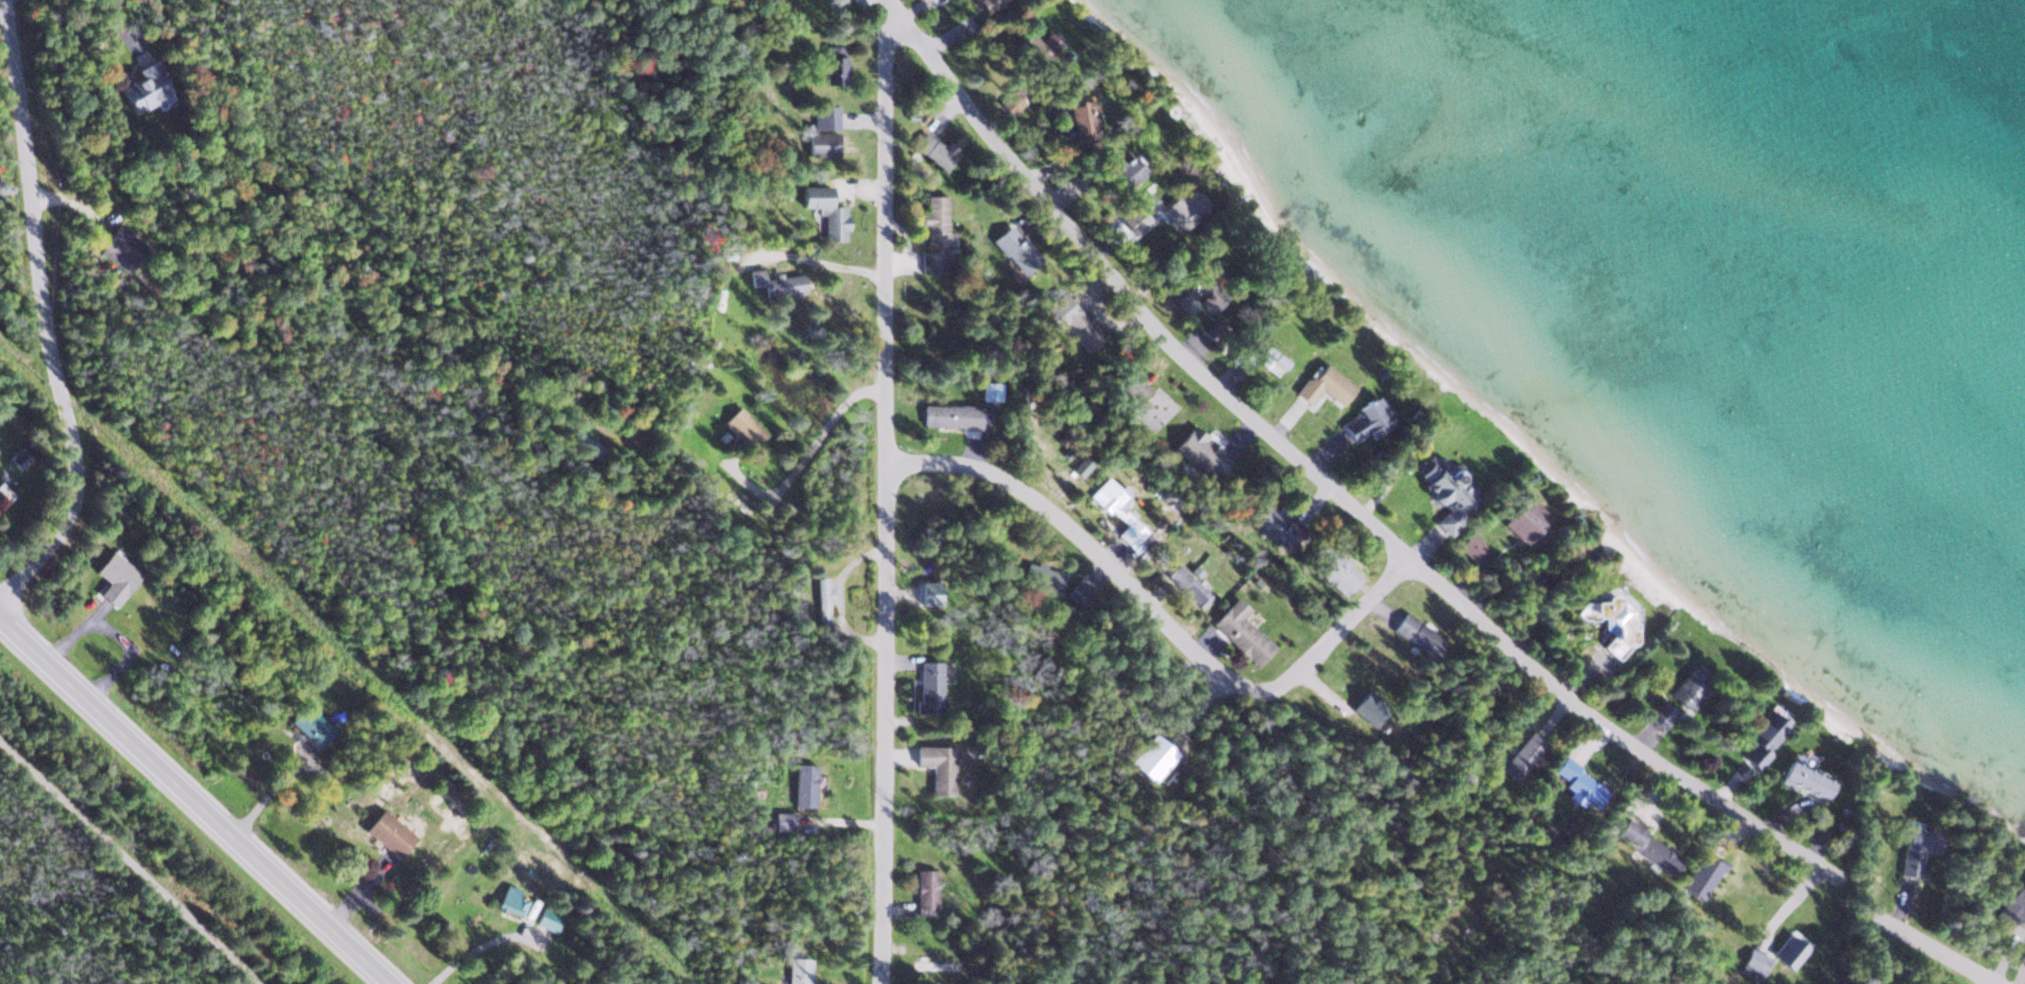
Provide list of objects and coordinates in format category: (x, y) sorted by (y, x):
building: (985, 4)
building: (1031, 48)
building: (141, 86)
building: (824, 116)
building: (1078, 118)
building: (819, 143)
building: (931, 149)
building: (1113, 165)
building: (1146, 203)
building: (1176, 209)
building: (822, 211)
building: (932, 228)
building: (122, 245)
building: (1012, 247)
road: (784, 257)
building: (774, 282)
building: (1181, 290)
building: (1210, 297)
road: (44, 313)
building: (1213, 326)
building: (1078, 331)
building: (1267, 350)
building: (1240, 354)
building: (1324, 384)
building: (1132, 387)
building: (983, 391)
building: (949, 414)
building: (1367, 420)
building: (738, 422)
building: (583, 442)
building: (1197, 452)
road: (1327, 477)
building: (1445, 492)
building: (3, 495)
road: (887, 502)
building: (1115, 508)
building: (1264, 517)
building: (1526, 521)
building: (1470, 545)
building: (1329, 566)
building: (1039, 577)
building: (114, 578)
building: (1182, 582)
building: (926, 592)
building: (820, 598)
road: (1157, 616)
building: (1610, 620)
building: (1237, 630)
building: (1414, 634)
building: (926, 686)
building: (1689, 688)
building: (1662, 713)
building: (307, 724)
building: (1762, 737)
building: (1519, 754)
building: (1148, 756)
building: (935, 766)
building: (1802, 776)
building: (1578, 783)
building: (800, 788)
road: (195, 800)
building: (780, 820)
building: (386, 832)
building: (1644, 844)
building: (1911, 847)
road: (127, 865)
building: (1699, 870)
building: (924, 887)
building: (511, 899)
building: (2011, 907)
road: (1914, 936)
building: (1753, 960)
building: (932, 963)
building: (797, 970)

